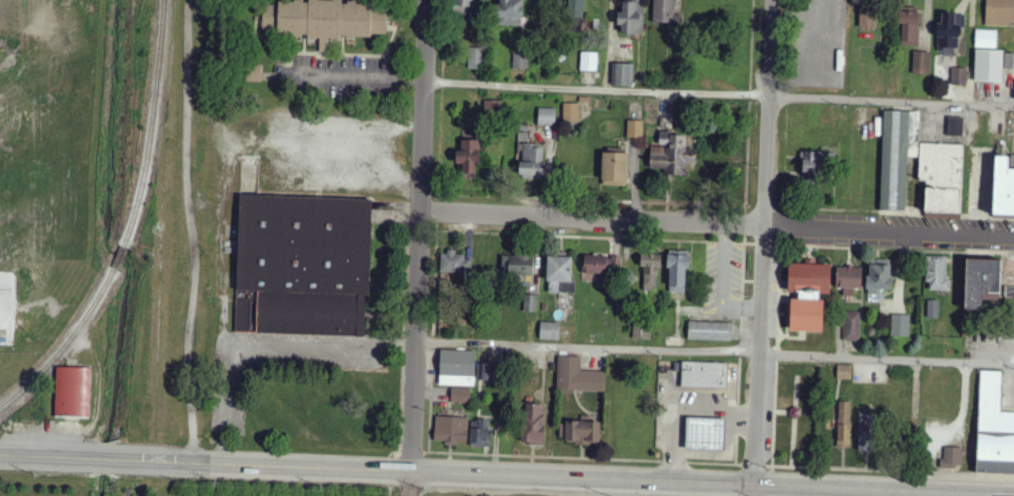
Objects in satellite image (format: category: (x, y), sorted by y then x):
railway: (161, 4)
building: (464, 6)
building: (575, 9)
building: (509, 13)
building: (999, 13)
building: (631, 17)
building: (867, 18)
building: (329, 21)
building: (909, 26)
building: (949, 35)
road: (444, 37)
building: (985, 39)
building: (475, 58)
building: (520, 60)
building: (588, 61)
building: (921, 63)
building: (988, 65)
building: (254, 73)
building: (624, 74)
building: (959, 76)
parking lot: (333, 78)
road: (365, 79)
road: (719, 95)
building: (571, 112)
building: (547, 116)
railway: (150, 126)
building: (956, 127)
building: (635, 128)
building: (672, 154)
building: (468, 156)
building: (897, 156)
building: (531, 162)
building: (812, 166)
building: (614, 167)
building: (941, 176)
building: (1003, 187)
road: (696, 205)
road: (746, 207)
road: (764, 207)
road: (783, 208)
road: (855, 210)
road: (719, 225)
road: (745, 225)
road: (784, 227)
road: (422, 235)
road: (745, 244)
road: (764, 244)
road: (782, 244)
road: (765, 248)
railway: (119, 255)
building: (301, 263)
building: (455, 264)
building: (602, 264)
building: (517, 265)
building: (678, 270)
building: (650, 271)
building: (935, 273)
building: (559, 274)
building: (1008, 277)
building: (878, 279)
building: (848, 280)
building: (982, 283)
building: (807, 295)
building: (530, 303)
road: (788, 304)
building: (933, 308)
road: (789, 314)
road: (787, 325)
building: (851, 325)
building: (900, 325)
building: (549, 331)
building: (709, 331)
building: (641, 333)
road: (793, 338)
railway: (68, 341)
road: (715, 350)
road: (776, 352)
building: (457, 368)
building: (844, 372)
building: (704, 375)
building: (577, 376)
gas station: (703, 376)
road: (796, 391)
parking lot: (1007, 392)
building: (72, 393)
building: (460, 395)
railway: (4, 407)
road: (782, 412)
building: (794, 412)
building: (842, 424)
building: (534, 425)
building: (993, 427)
building: (451, 430)
building: (583, 431)
building: (868, 432)
building: (481, 433)
building: (705, 434)
gas station: (706, 434)
road: (792, 443)
road: (46, 453)
road: (108, 456)
building: (952, 458)
road: (733, 464)
road: (739, 465)
road: (753, 465)
road: (769, 466)
road: (893, 471)
road: (561, 477)
road: (408, 483)

